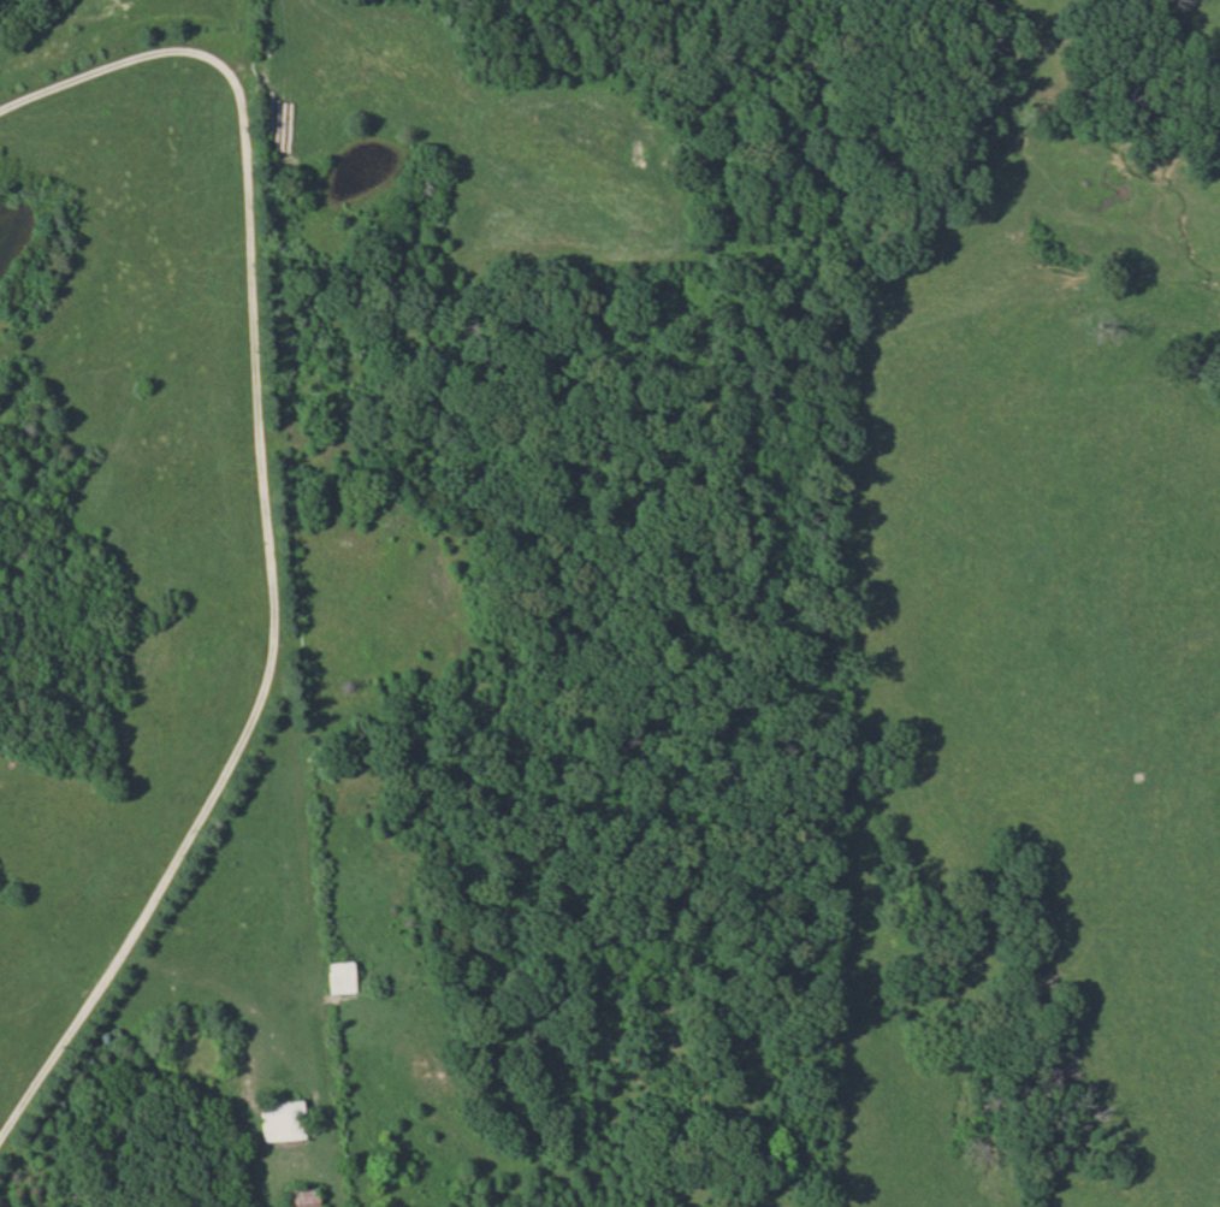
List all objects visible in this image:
road: (260, 503)
building: (336, 978)
building: (277, 1123)
building: (298, 1199)

